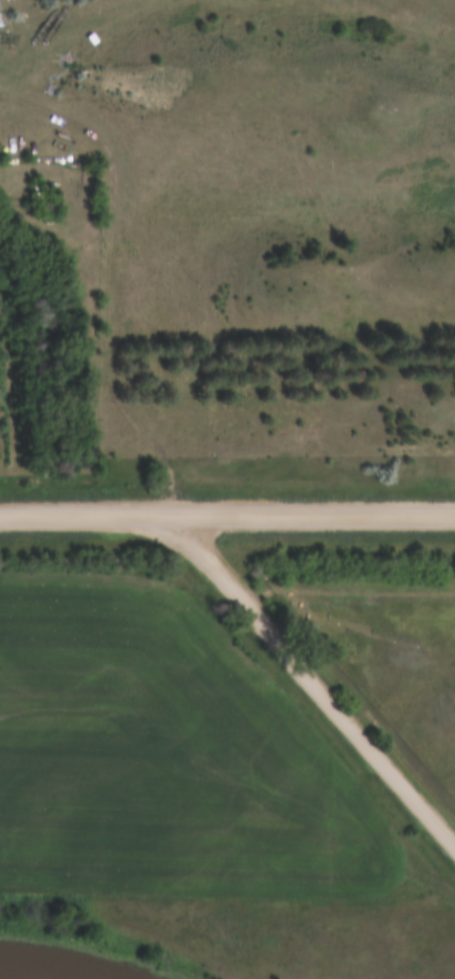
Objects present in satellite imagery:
road: (112, 279)
road: (227, 512)
road: (310, 682)
river: (44, 972)

